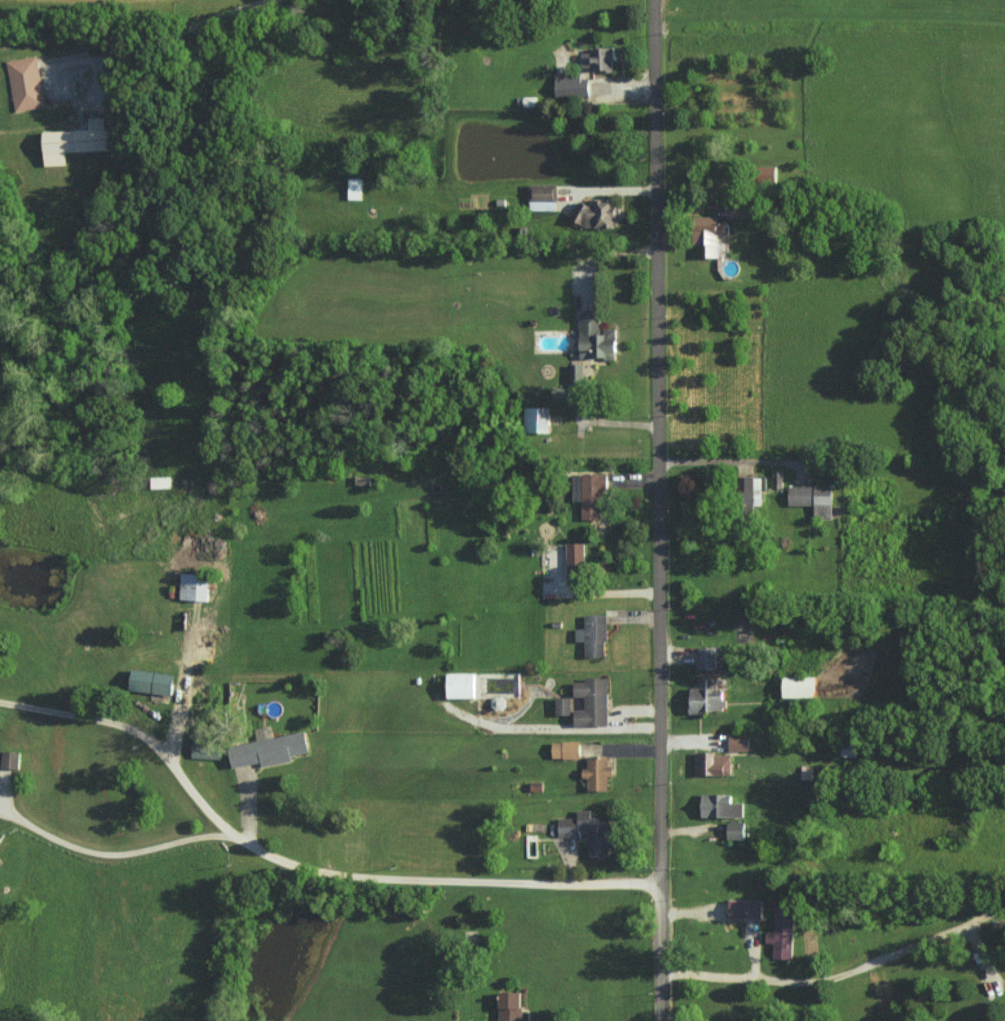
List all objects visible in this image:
park: (842, 10)
road: (177, 32)
building: (599, 58)
building: (26, 83)
building: (572, 85)
building: (80, 140)
building: (355, 188)
building: (543, 195)
building: (737, 209)
building: (598, 212)
building: (709, 233)
building: (597, 337)
building: (577, 374)
building: (537, 418)
road: (723, 461)
building: (752, 490)
building: (590, 494)
building: (813, 497)
road: (660, 510)
building: (575, 554)
building: (194, 586)
building: (594, 635)
building: (708, 657)
building: (153, 681)
road: (179, 681)
building: (463, 685)
building: (801, 686)
building: (708, 696)
building: (593, 702)
building: (563, 705)
road: (635, 712)
road: (551, 730)
building: (740, 743)
building: (207, 744)
building: (270, 749)
building: (567, 749)
building: (11, 759)
building: (714, 763)
building: (598, 773)
building: (722, 806)
building: (737, 830)
building: (592, 831)
road: (108, 843)
road: (303, 857)
building: (747, 909)
road: (733, 919)
building: (783, 933)
road: (839, 973)
building: (510, 1006)

